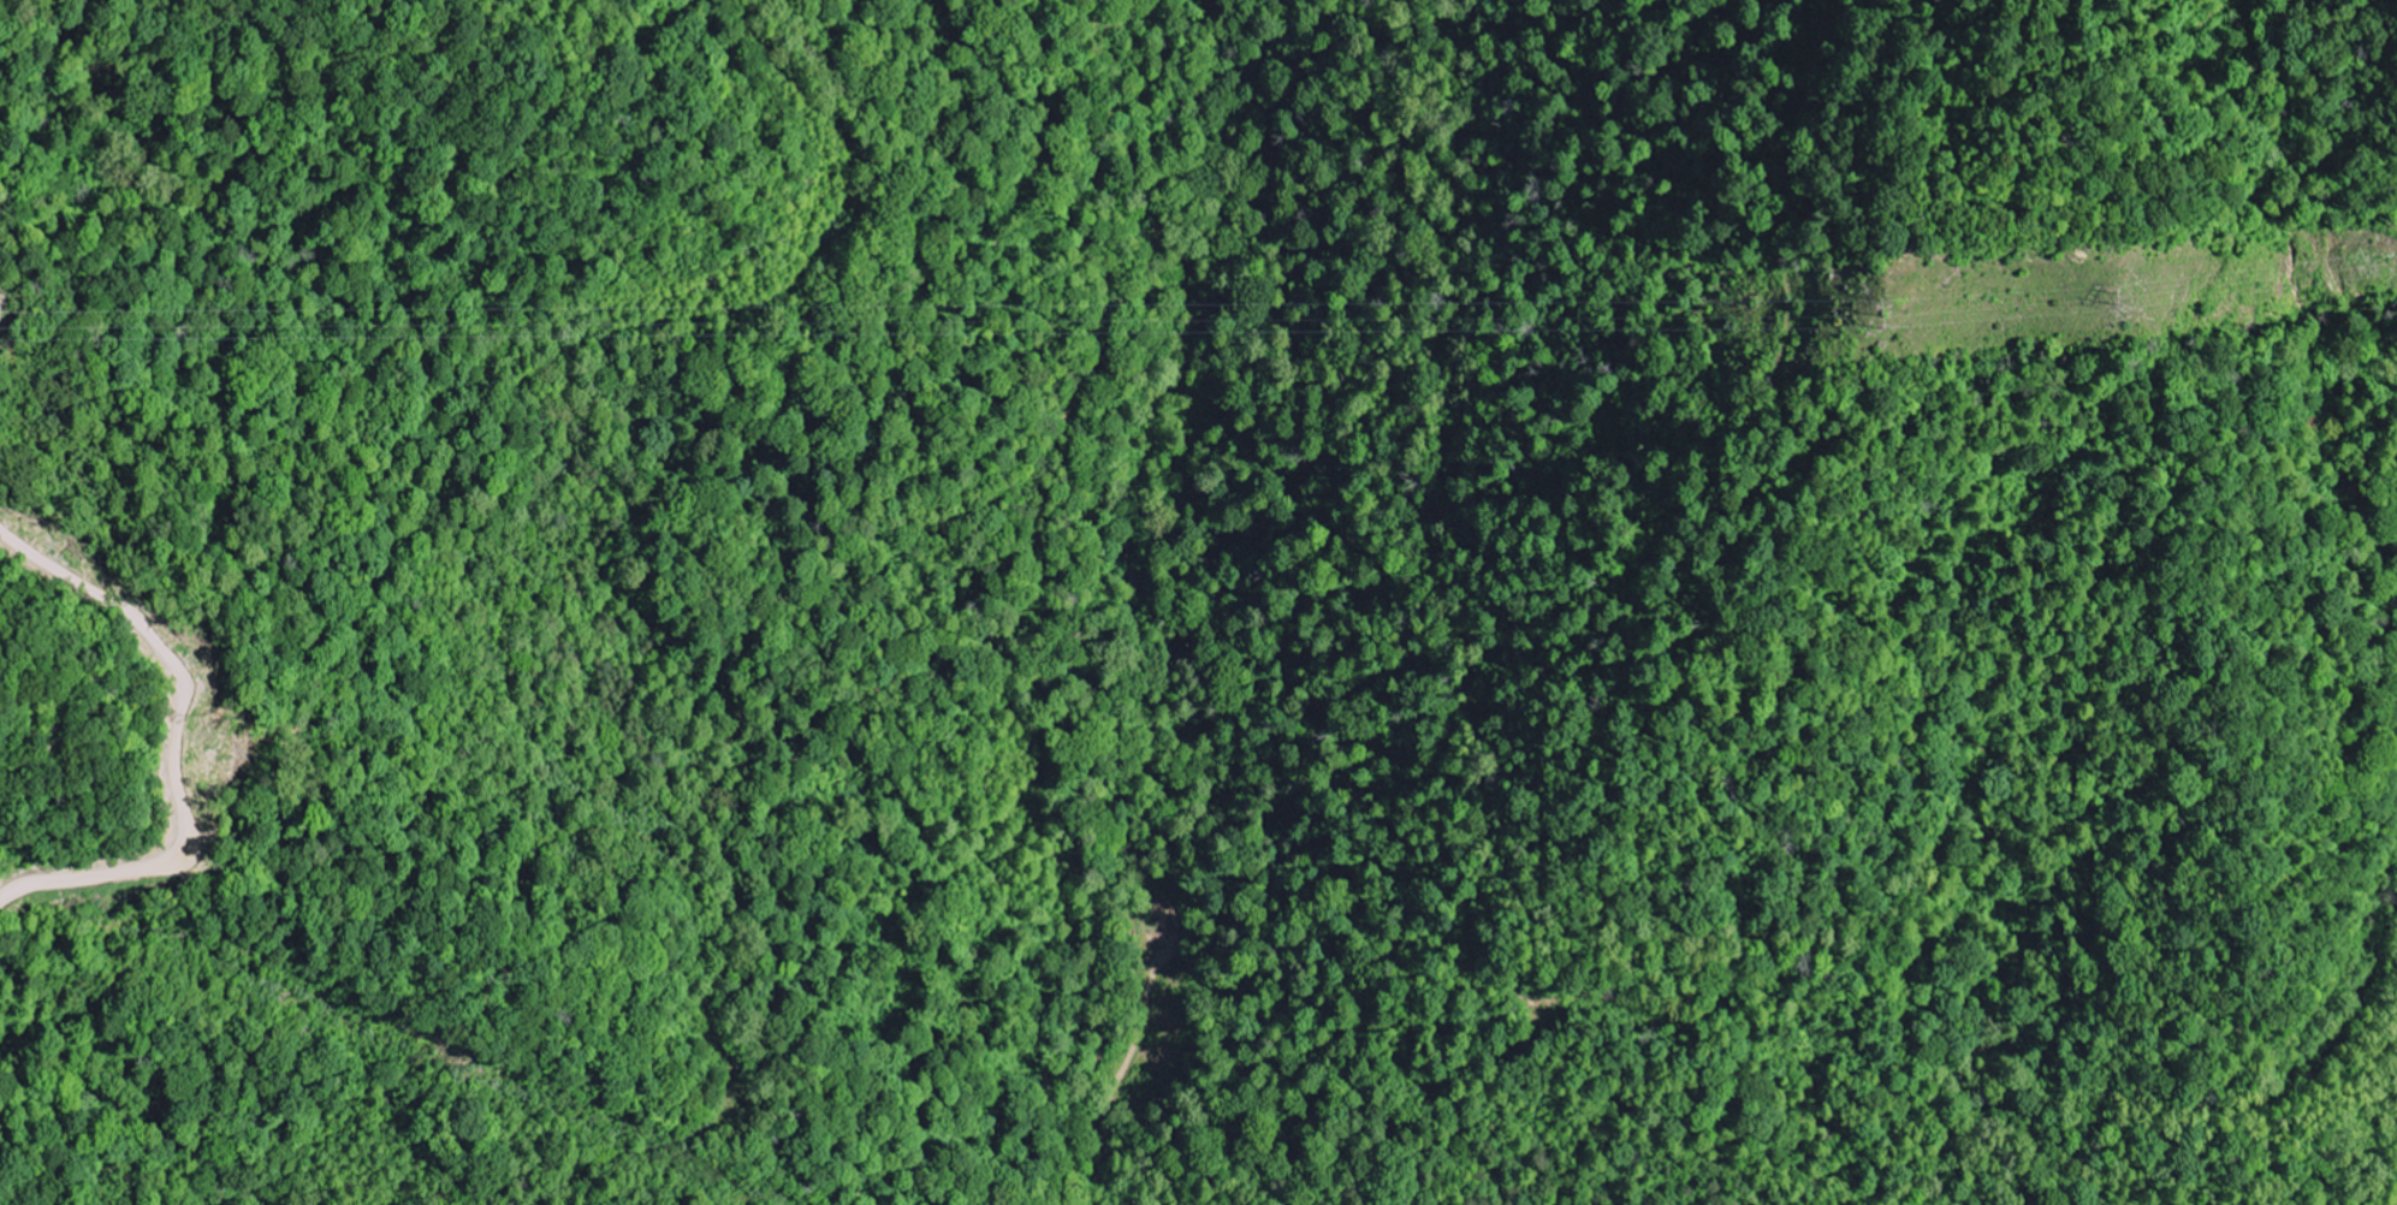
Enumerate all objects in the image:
road: (212, 572)

